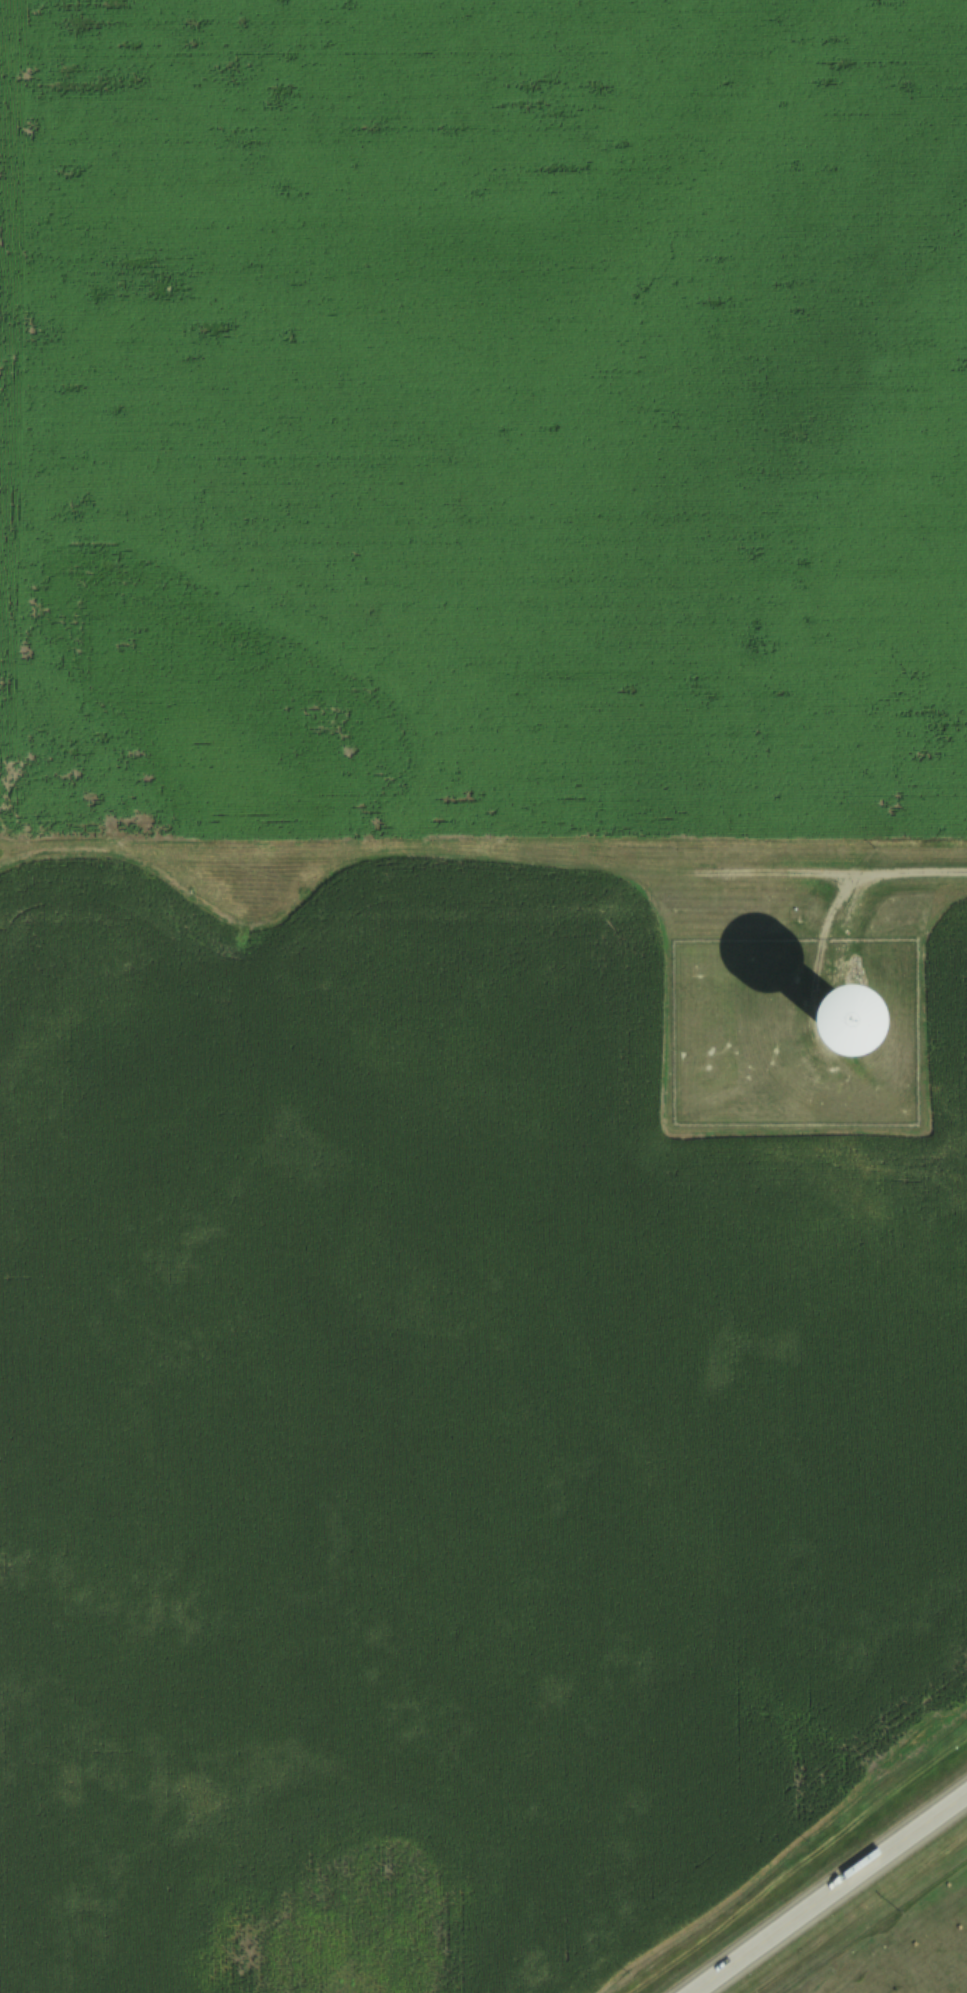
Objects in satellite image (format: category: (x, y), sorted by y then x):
road: (831, 1894)

